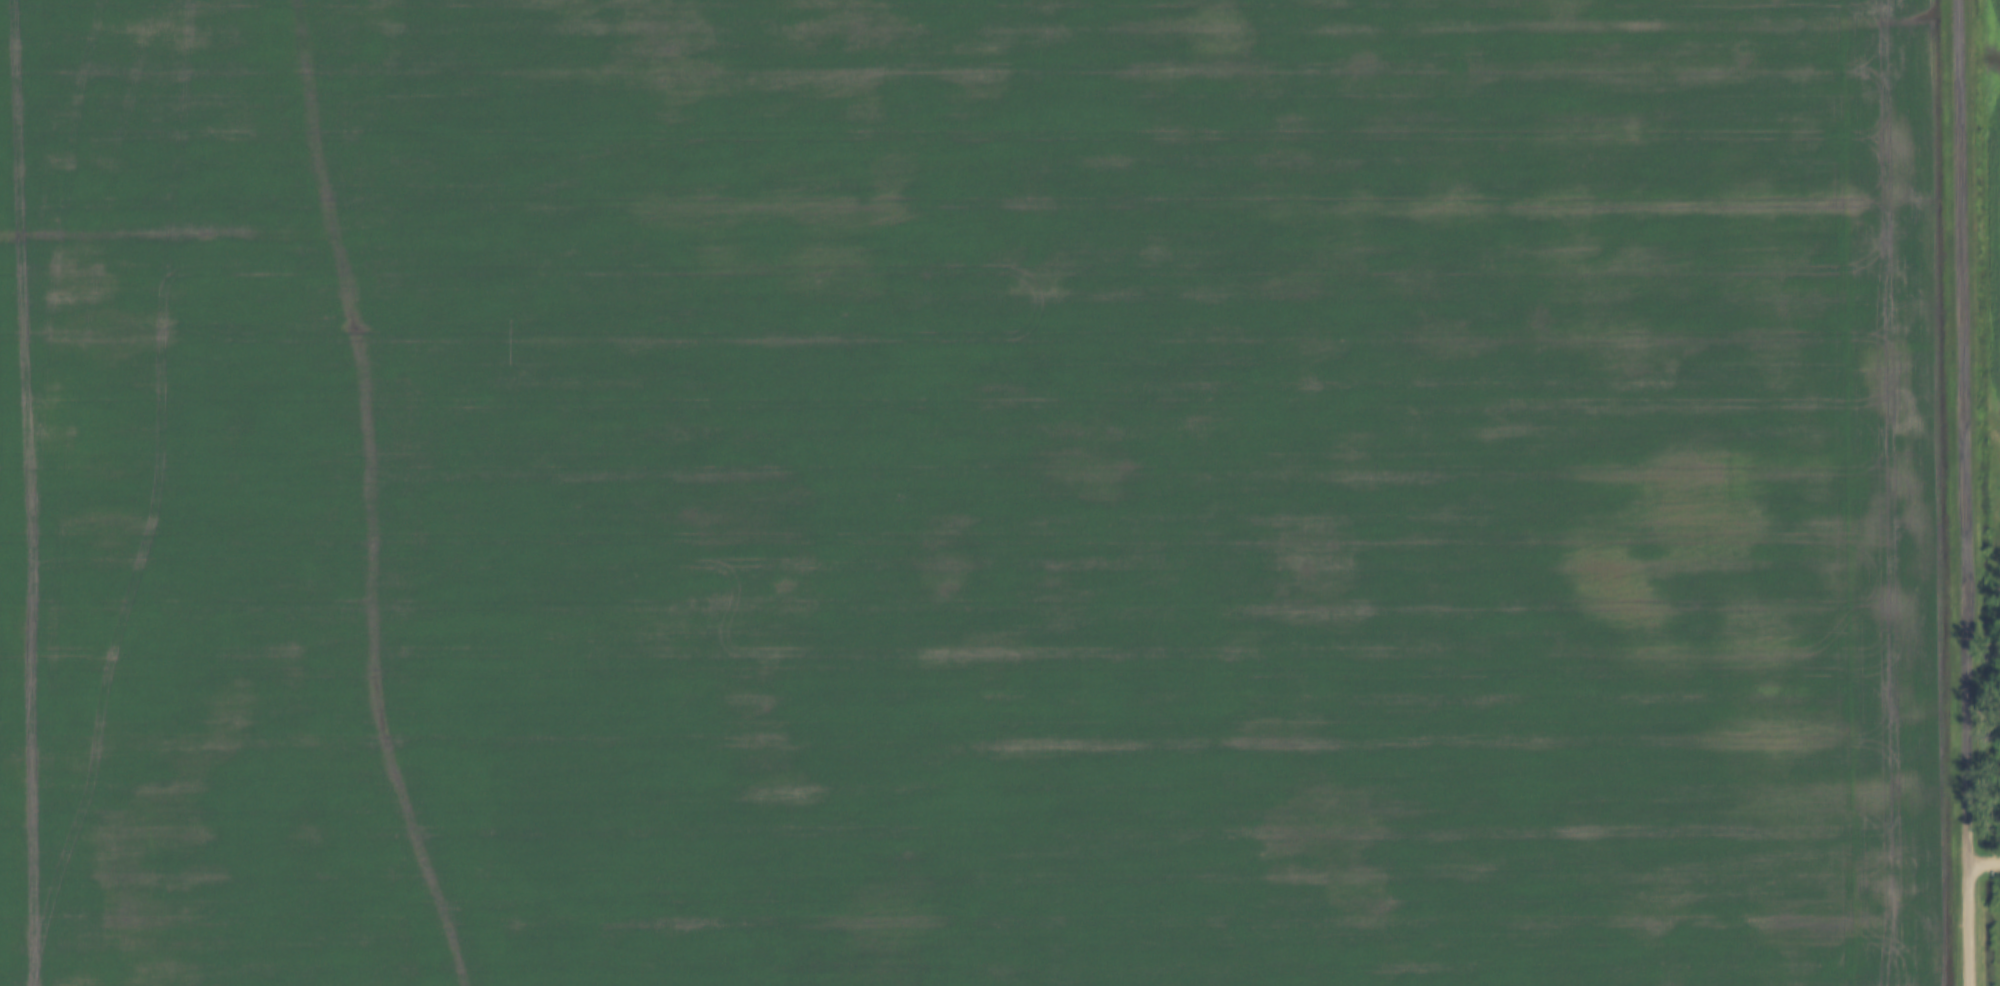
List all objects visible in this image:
road: (1961, 428)
road: (1983, 859)
road: (1967, 921)

